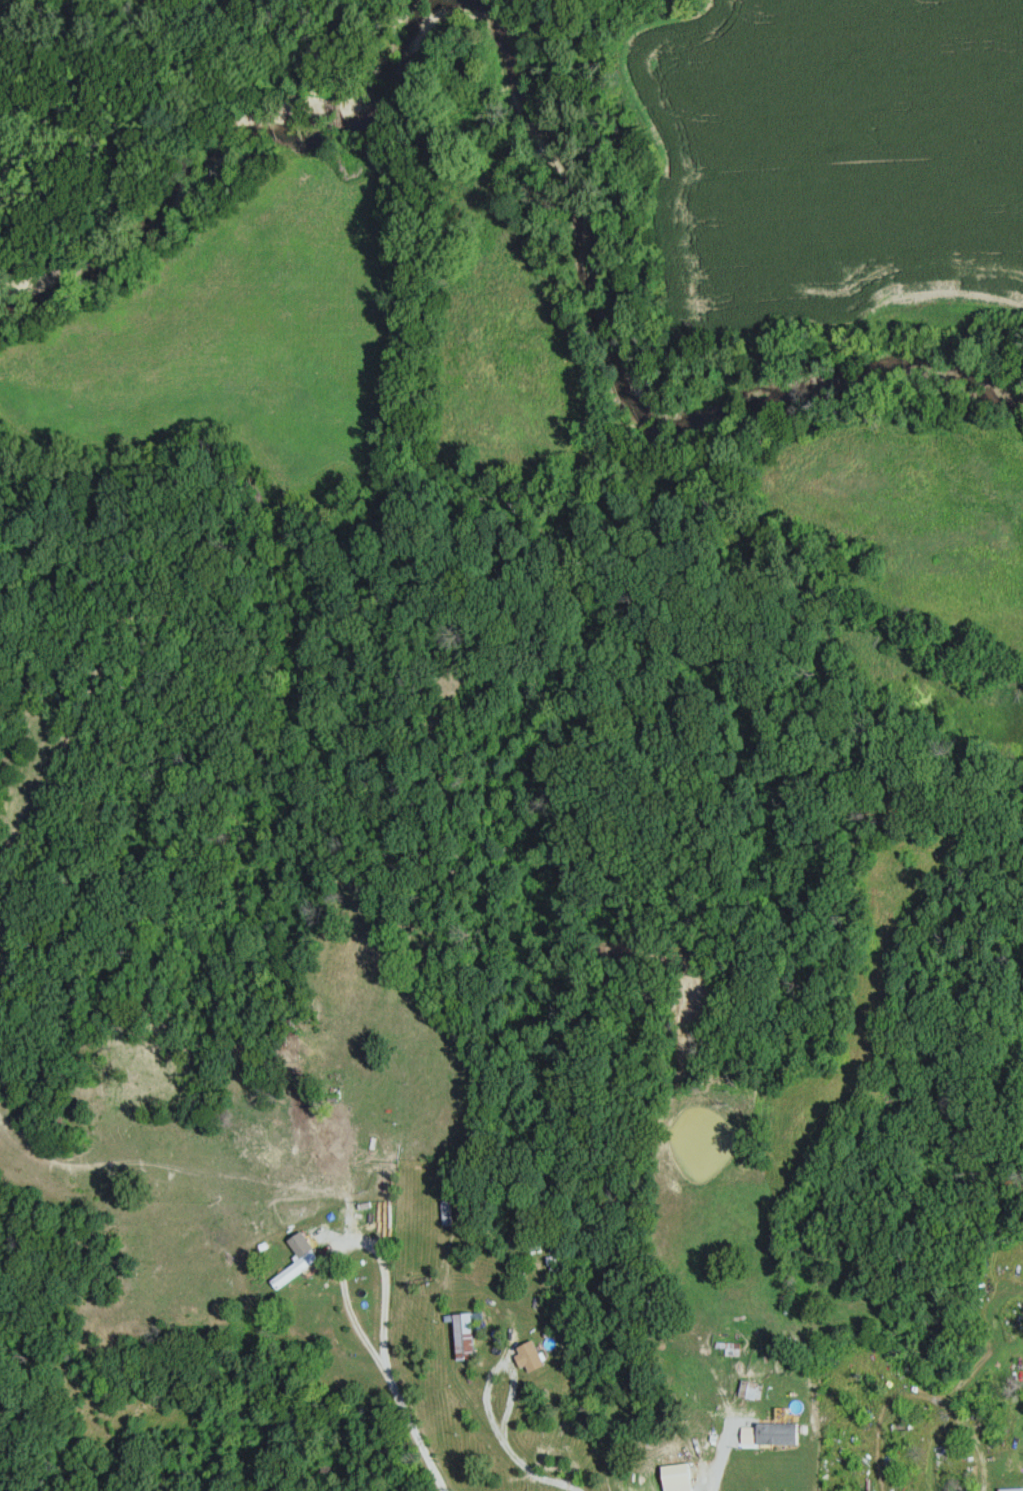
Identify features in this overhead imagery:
building: (266, 1159)
building: (304, 1250)
road: (384, 1318)
building: (460, 1337)
building: (733, 1351)
building: (751, 1391)
building: (778, 1433)
building: (659, 1444)
road: (728, 1449)
building: (557, 1460)
building: (1006, 1490)

